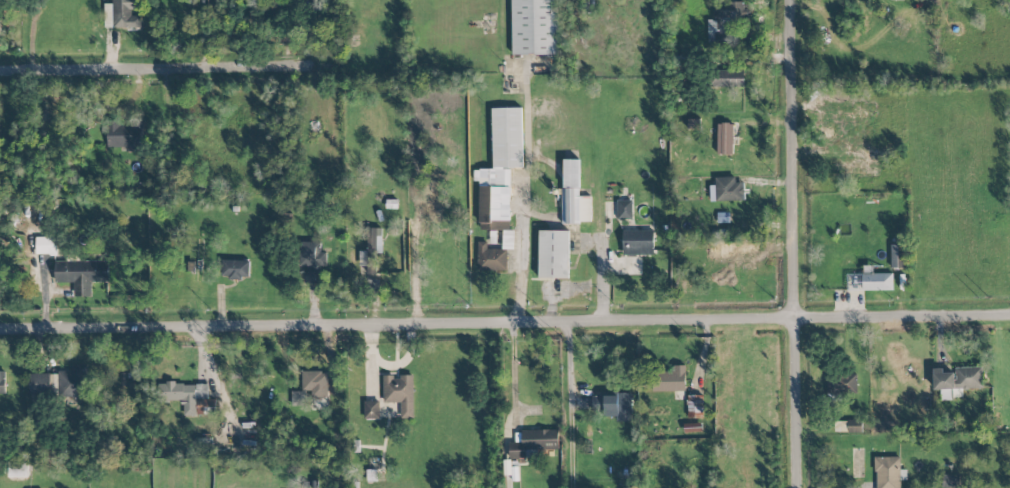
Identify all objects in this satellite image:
building: (122, 14)
building: (726, 24)
building: (534, 27)
road: (175, 76)
building: (728, 78)
building: (821, 106)
building: (124, 135)
building: (725, 139)
building: (876, 152)
building: (500, 169)
building: (858, 172)
building: (726, 190)
building: (574, 195)
road: (527, 198)
building: (624, 209)
building: (508, 240)
building: (638, 242)
road: (795, 243)
building: (46, 245)
building: (553, 254)
building: (898, 256)
building: (371, 258)
building: (491, 258)
building: (312, 259)
building: (235, 269)
building: (82, 275)
building: (877, 281)
road: (505, 327)
building: (669, 379)
building: (958, 379)
building: (2, 383)
building: (62, 383)
building: (315, 383)
building: (841, 383)
building: (400, 393)
building: (186, 397)
road: (569, 406)
building: (615, 406)
road: (512, 408)
building: (371, 410)
building: (850, 427)
building: (533, 443)
building: (18, 469)
building: (889, 472)
building: (950, 481)

